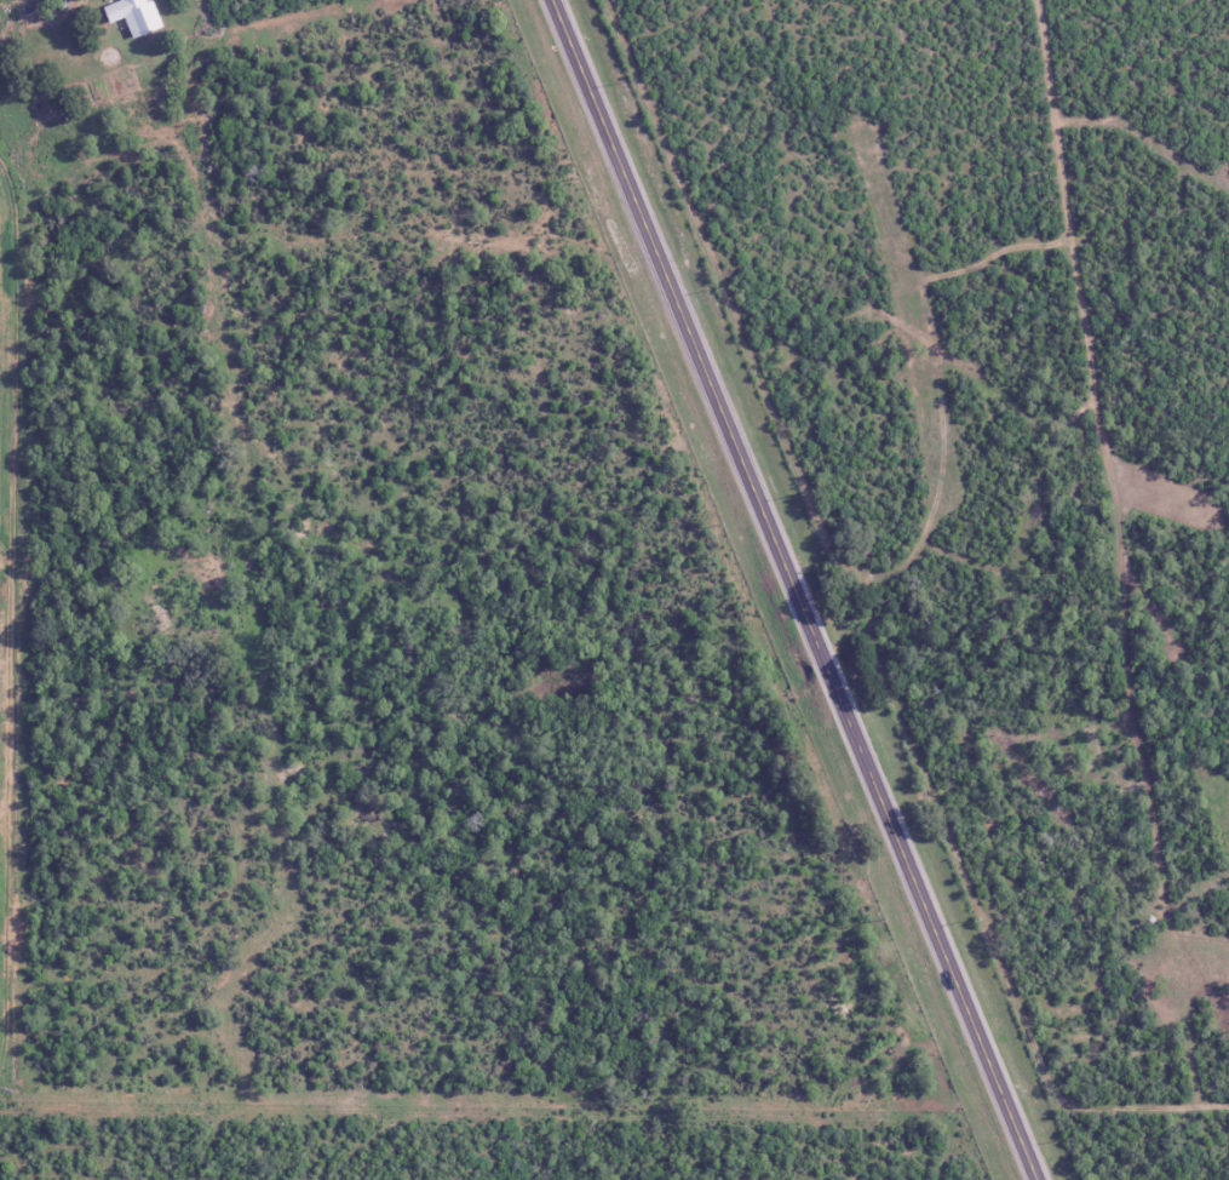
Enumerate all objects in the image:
building: (130, 16)
power tower: (573, 181)
power tower: (711, 523)
road: (798, 589)
power tower: (875, 921)

